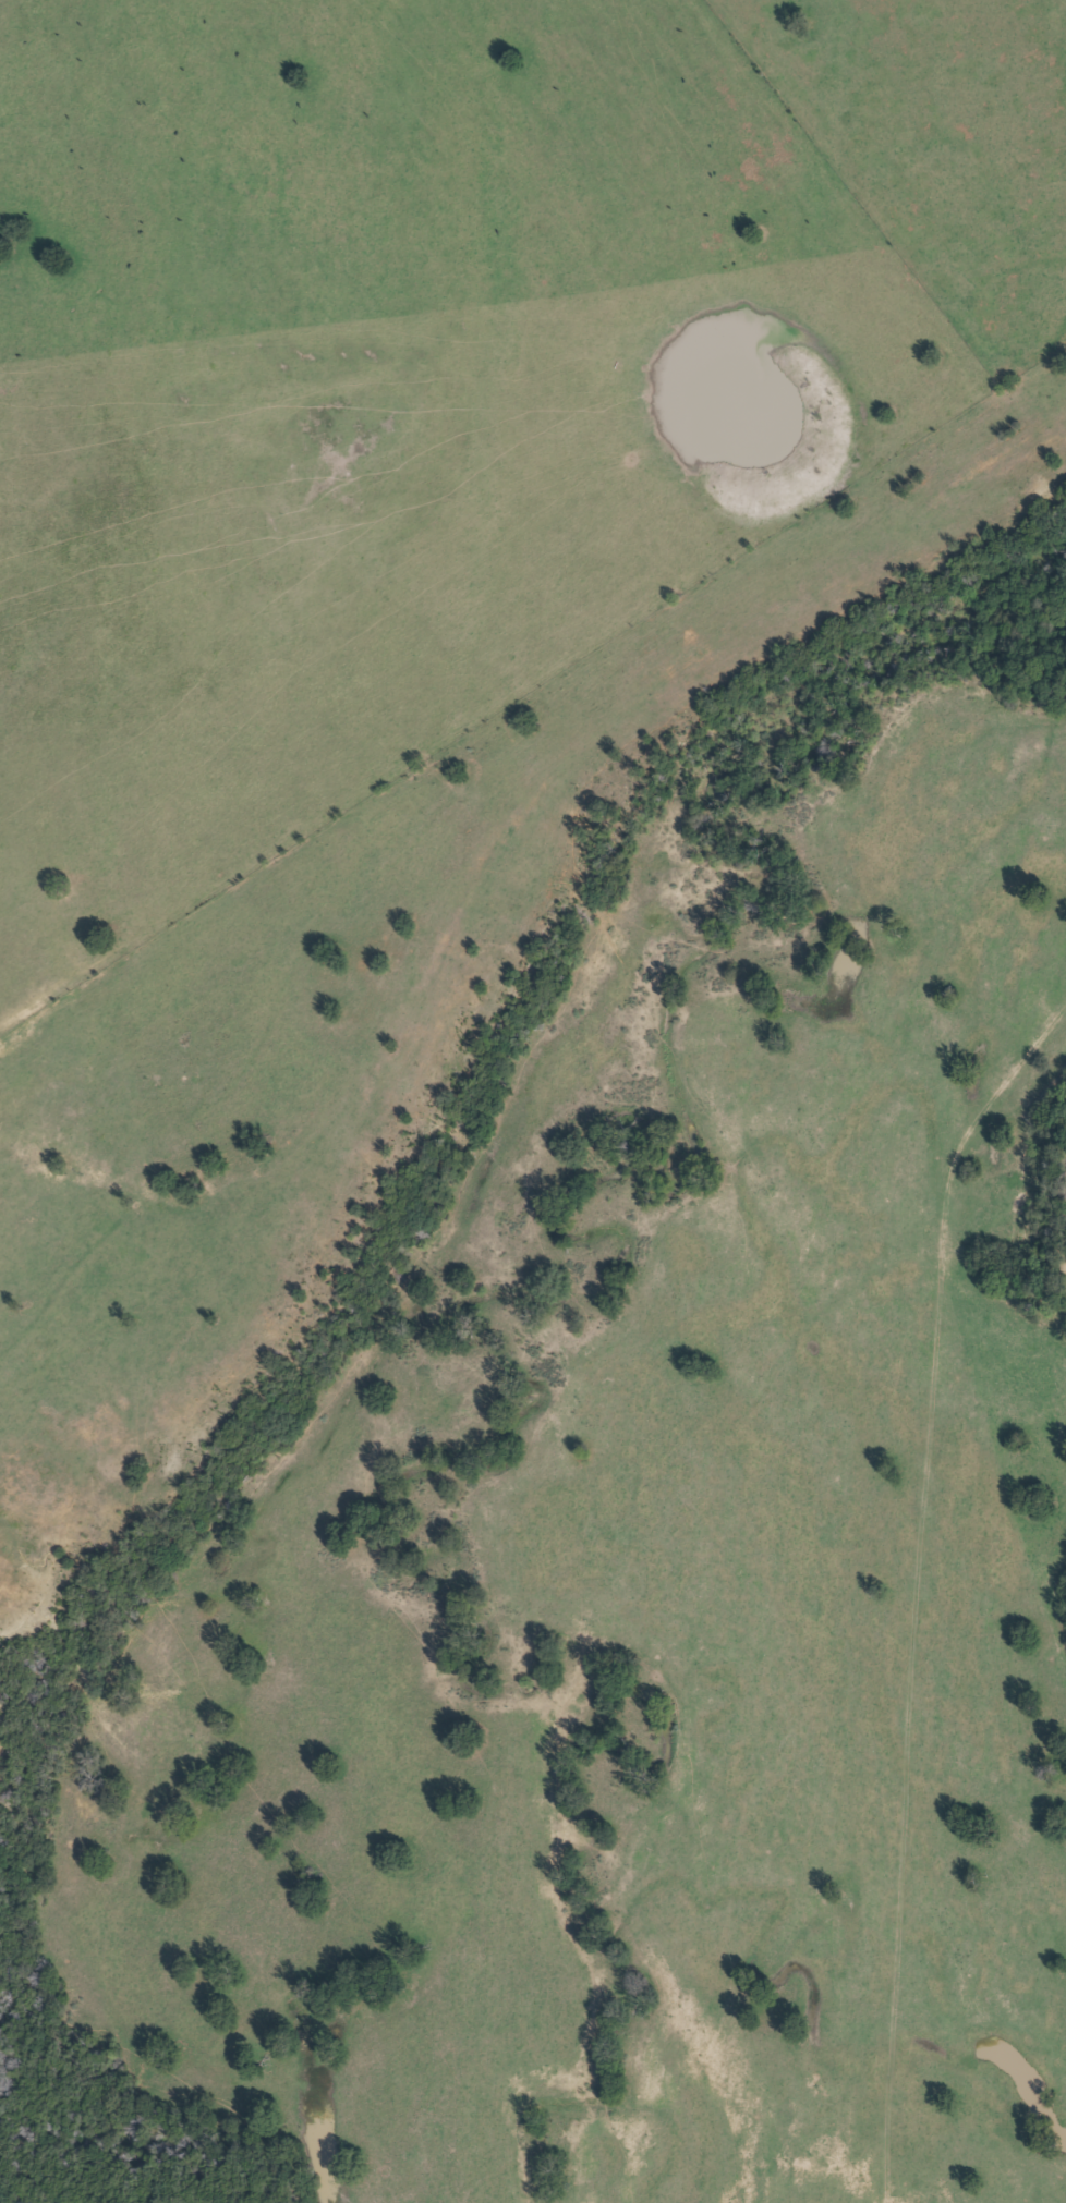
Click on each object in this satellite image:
road: (920, 1227)
road: (837, 1708)

